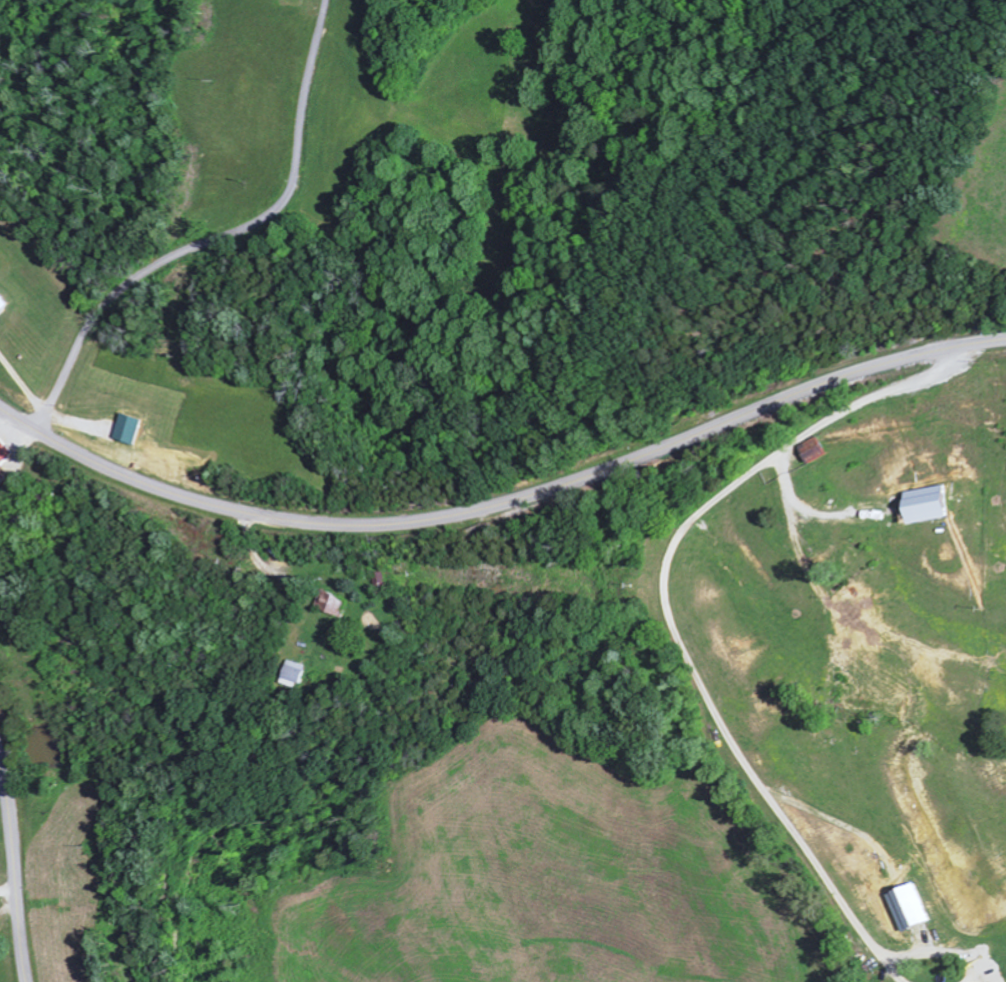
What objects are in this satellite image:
road: (224, 240)
building: (132, 428)
building: (930, 504)
road: (504, 507)
road: (688, 645)
building: (291, 674)
road: (15, 871)
building: (914, 906)

